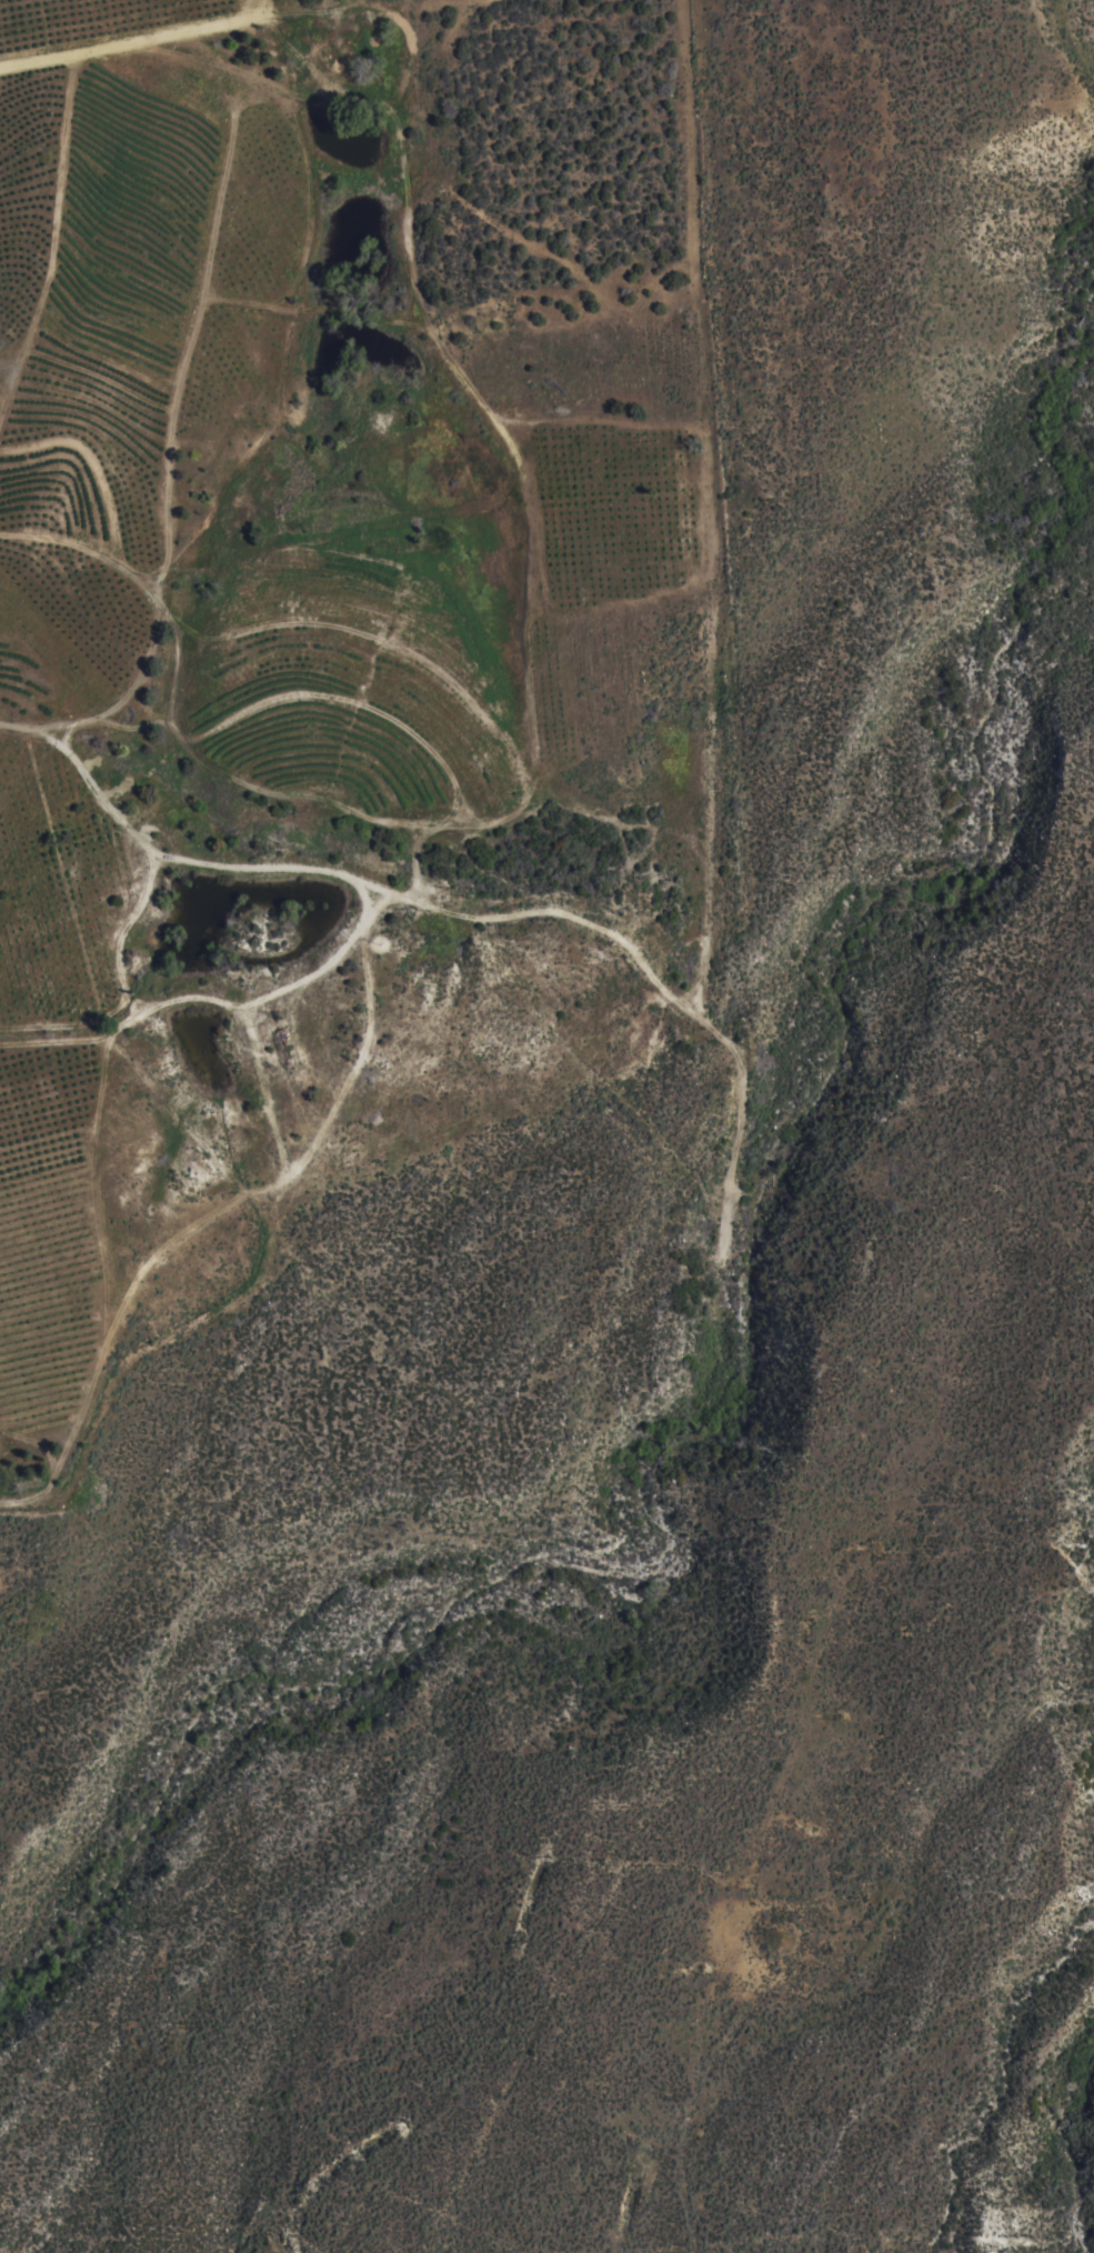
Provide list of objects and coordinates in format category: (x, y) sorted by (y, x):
crop: (218, 612)

